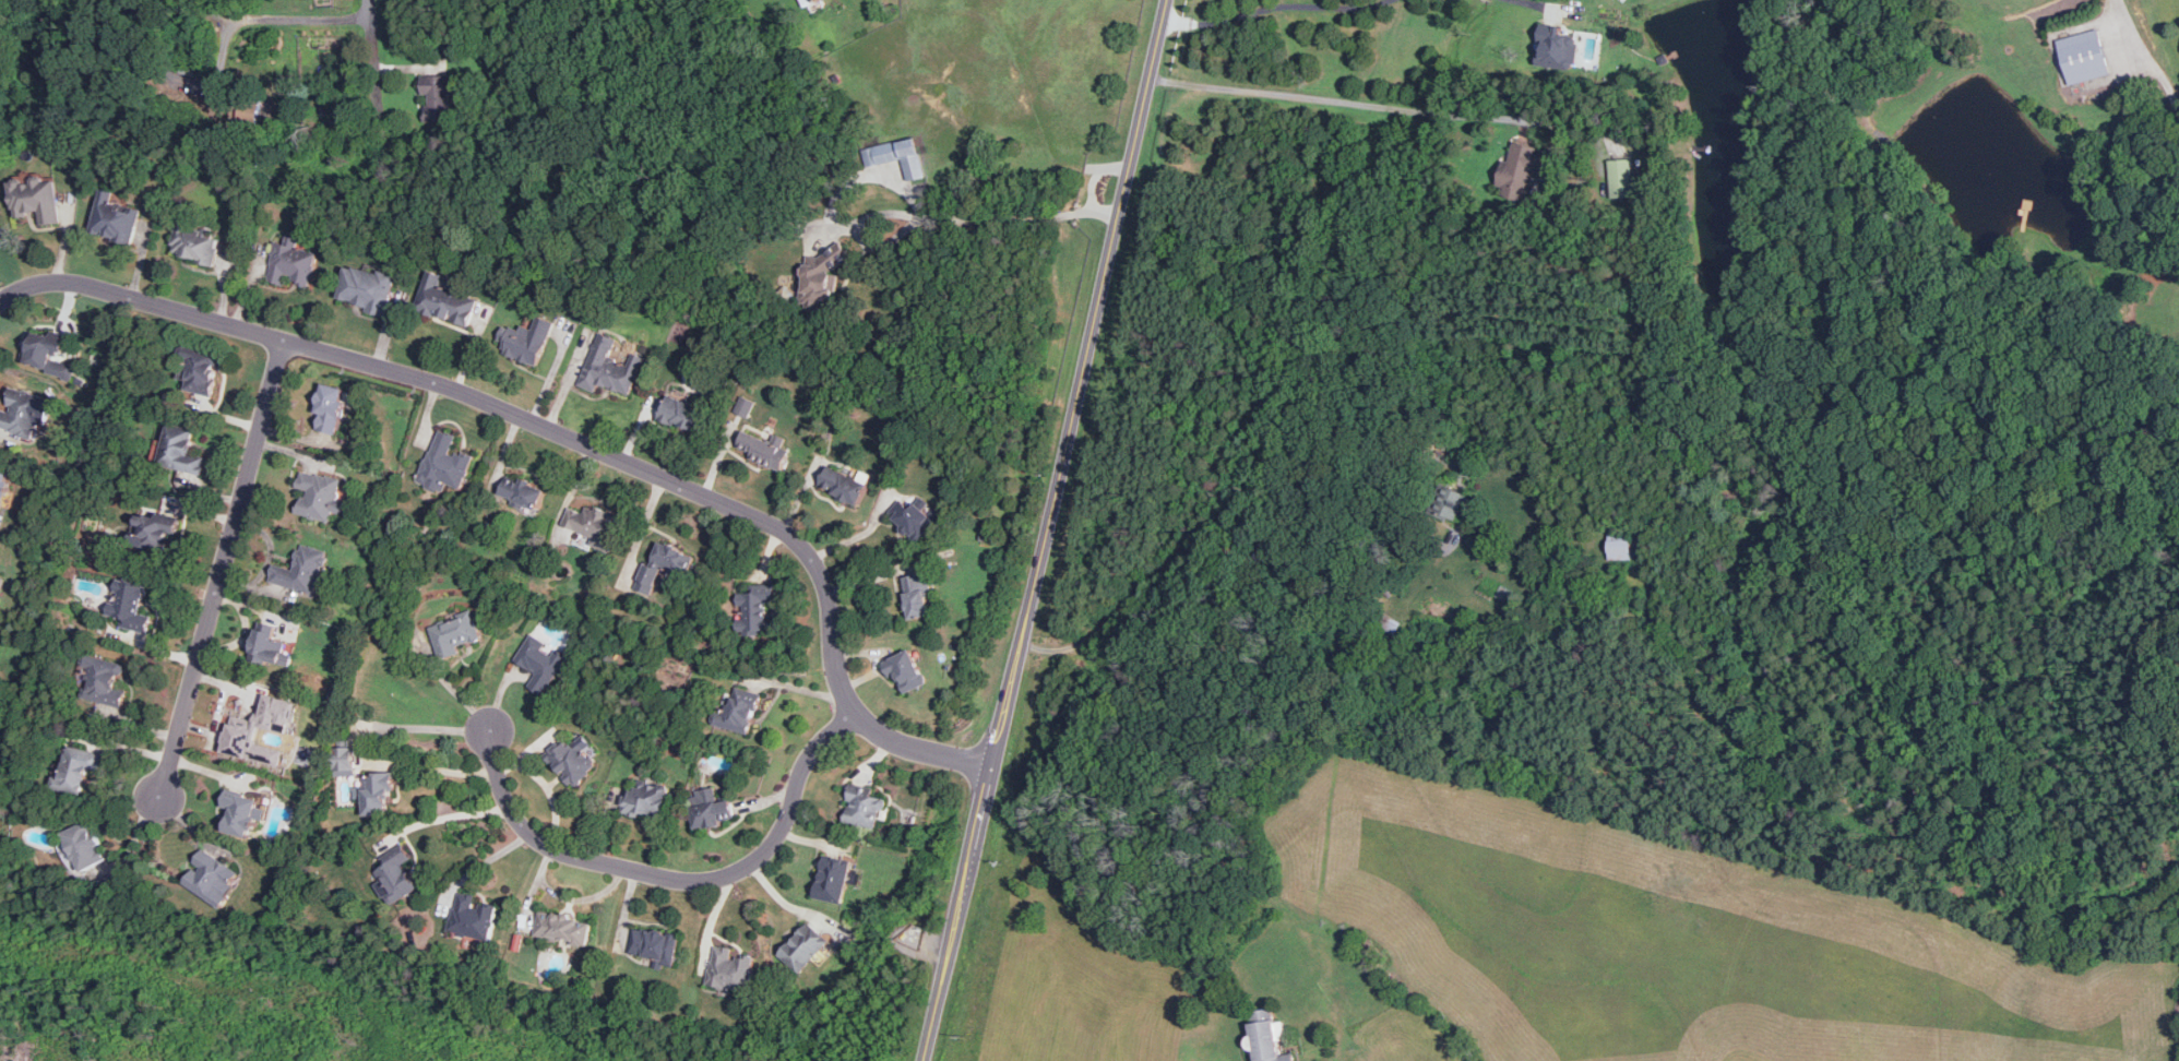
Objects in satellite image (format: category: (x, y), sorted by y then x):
building: (815, 0)
road: (1529, 1)
road: (1286, 4)
road: (264, 16)
road: (1176, 19)
building: (1557, 47)
road: (2144, 52)
building: (2084, 56)
road: (374, 61)
building: (440, 97)
road: (1333, 99)
building: (246, 109)
building: (898, 156)
building: (1523, 169)
building: (1623, 179)
building: (36, 198)
building: (115, 217)
road: (991, 220)
building: (788, 229)
building: (197, 241)
building: (291, 262)
building: (822, 277)
building: (367, 287)
building: (448, 299)
road: (1094, 321)
building: (525, 341)
building: (46, 353)
building: (609, 366)
building: (199, 369)
building: (745, 406)
building: (330, 407)
building: (681, 412)
building: (21, 413)
road: (564, 432)
building: (764, 448)
building: (180, 450)
building: (444, 463)
road: (1347, 473)
building: (3, 481)
building: (843, 484)
building: (522, 490)
building: (319, 494)
road: (1266, 496)
building: (1452, 503)
building: (916, 516)
building: (593, 524)
building: (156, 527)
building: (1620, 546)
building: (665, 563)
road: (222, 567)
building: (302, 570)
building: (1, 579)
road: (1145, 587)
building: (917, 594)
building: (130, 605)
building: (757, 611)
building: (454, 633)
building: (270, 646)
building: (541, 661)
building: (906, 670)
building: (103, 680)
building: (739, 708)
building: (242, 730)
building: (572, 760)
building: (345, 761)
building: (78, 767)
building: (374, 792)
building: (646, 800)
building: (865, 806)
building: (710, 808)
building: (241, 812)
road: (442, 813)
building: (85, 844)
road: (973, 851)
road: (489, 861)
building: (211, 878)
building: (395, 878)
road: (677, 878)
building: (832, 878)
building: (473, 917)
building: (563, 928)
building: (655, 945)
building: (803, 947)
building: (731, 969)
building: (1269, 1036)

